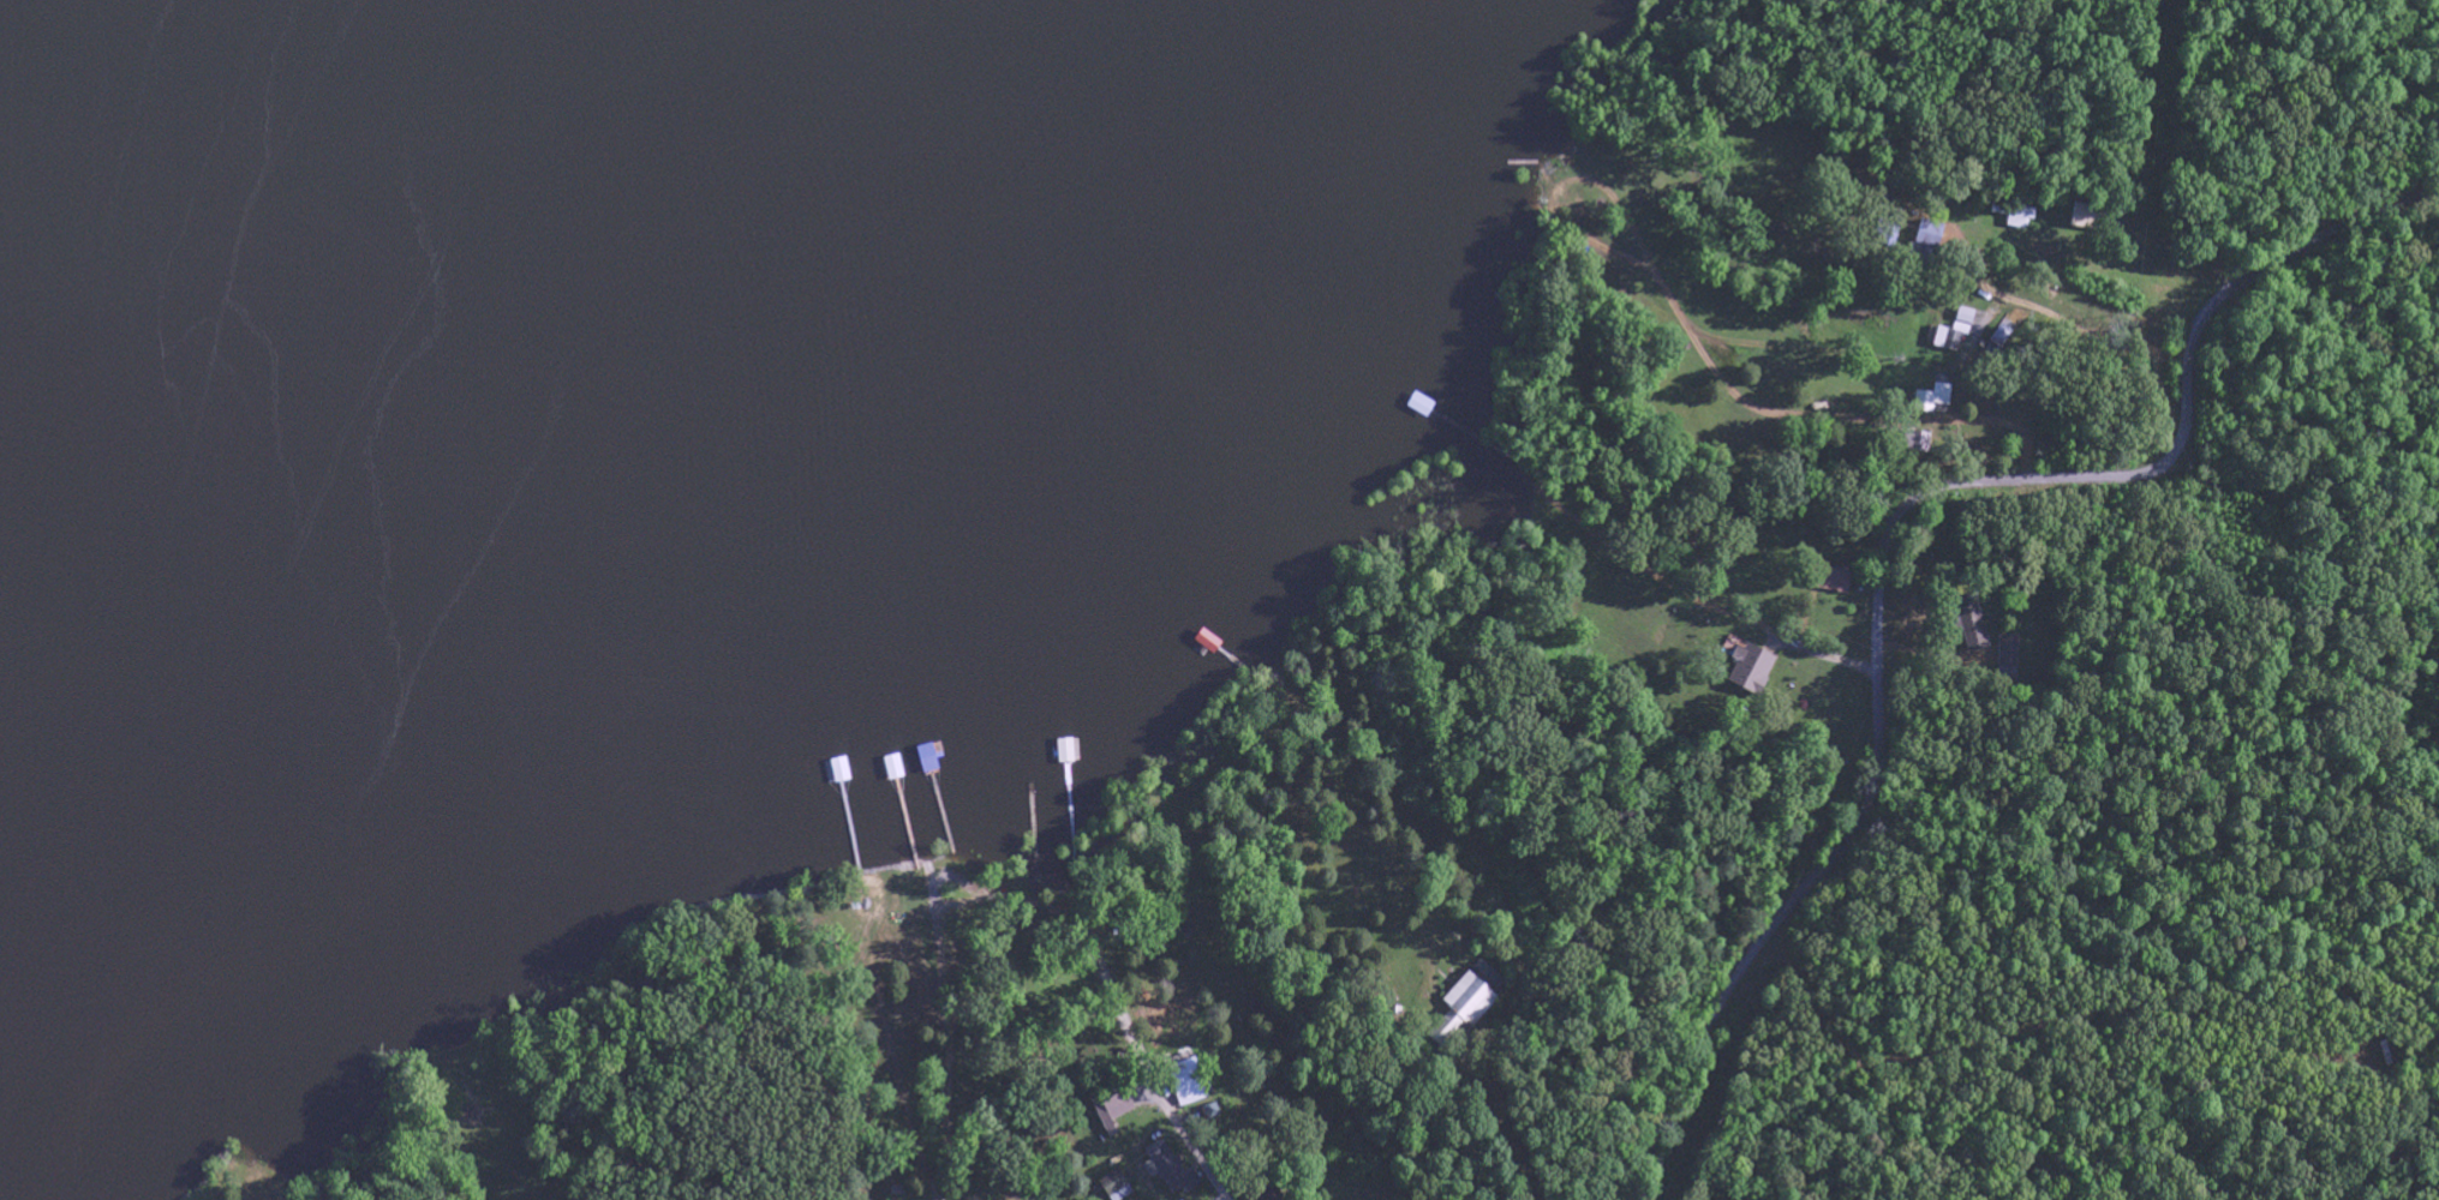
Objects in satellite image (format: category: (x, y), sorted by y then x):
river: (31, 80)
building: (1929, 236)
road: (2043, 348)
building: (1935, 398)
pier: (1449, 408)
road: (1884, 538)
building: (1972, 624)
pier: (1227, 652)
building: (2005, 653)
building: (1752, 668)
pier: (1033, 799)
pier: (939, 802)
pier: (856, 803)
pier: (904, 803)
road: (1020, 899)
building: (1467, 1002)
building: (1113, 1111)
building: (1172, 1170)
road: (264, 1192)
building: (1272, 1196)

